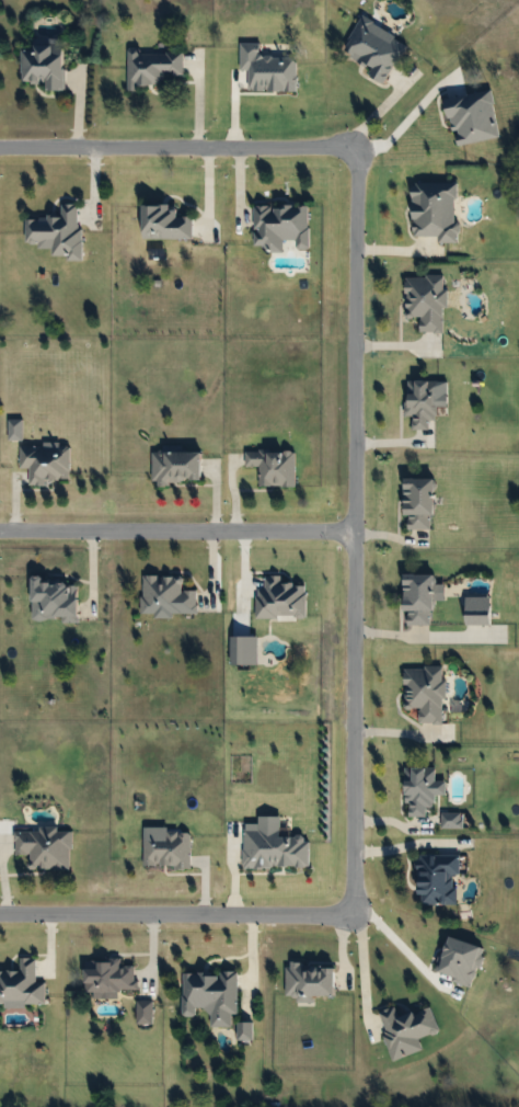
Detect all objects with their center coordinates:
building: (370, 48)
building: (41, 66)
building: (151, 67)
road: (401, 121)
road: (178, 146)
building: (432, 212)
building: (164, 224)
building: (279, 228)
building: (56, 231)
building: (425, 301)
building: (420, 402)
building: (45, 463)
building: (270, 467)
building: (174, 468)
building: (415, 503)
road: (356, 530)
road: (177, 532)
building: (164, 596)
building: (53, 600)
building: (415, 600)
building: (476, 610)
building: (423, 692)
building: (418, 789)
building: (450, 821)
building: (43, 848)
building: (165, 852)
building: (436, 879)
road: (175, 910)
road: (392, 943)
road: (362, 961)
building: (107, 978)
building: (308, 981)
building: (22, 984)
building: (209, 996)
building: (143, 1013)
building: (406, 1030)

